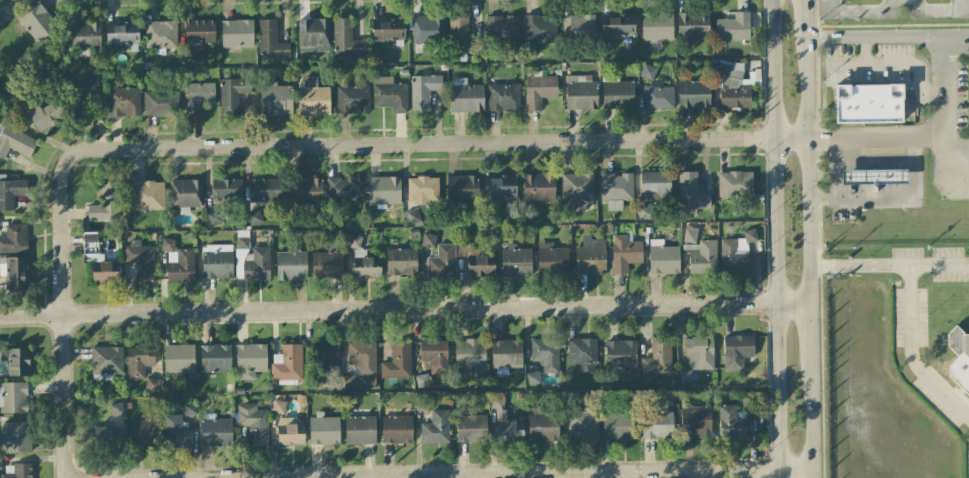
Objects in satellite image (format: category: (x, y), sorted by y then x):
building: (7, 1)
road: (962, 5)
road: (965, 10)
road: (932, 11)
road: (801, 12)
road: (859, 12)
building: (38, 23)
building: (617, 24)
building: (692, 25)
building: (577, 26)
building: (656, 26)
building: (732, 27)
building: (387, 28)
building: (427, 28)
building: (501, 29)
building: (539, 30)
building: (198, 31)
building: (121, 33)
building: (236, 33)
building: (160, 34)
building: (84, 35)
building: (313, 35)
building: (462, 36)
building: (345, 39)
building: (270, 40)
road: (885, 40)
road: (905, 62)
building: (732, 86)
road: (943, 88)
building: (423, 91)
building: (538, 91)
building: (580, 92)
building: (616, 93)
building: (389, 94)
building: (693, 94)
building: (232, 95)
building: (81, 96)
building: (466, 96)
building: (197, 97)
building: (503, 97)
building: (658, 97)
building: (313, 98)
building: (275, 99)
building: (352, 99)
building: (123, 101)
building: (160, 103)
building: (867, 103)
building: (42, 113)
road: (910, 137)
building: (15, 142)
road: (467, 143)
road: (956, 154)
road: (805, 162)
building: (874, 176)
building: (734, 183)
building: (654, 184)
building: (499, 185)
building: (538, 187)
building: (462, 188)
building: (576, 188)
building: (422, 189)
building: (616, 189)
building: (226, 190)
building: (265, 190)
building: (306, 190)
building: (342, 190)
building: (384, 190)
building: (10, 192)
building: (690, 192)
building: (185, 194)
building: (147, 195)
road: (890, 199)
building: (105, 204)
building: (412, 216)
building: (254, 217)
building: (216, 219)
building: (13, 239)
road: (772, 239)
building: (427, 240)
building: (690, 248)
building: (735, 252)
building: (624, 253)
street lamp: (869, 256)
building: (589, 258)
building: (703, 258)
building: (475, 259)
building: (551, 259)
building: (663, 259)
building: (140, 260)
building: (251, 260)
building: (363, 260)
building: (217, 261)
building: (401, 261)
building: (178, 262)
building: (442, 262)
building: (515, 262)
building: (291, 265)
building: (326, 265)
road: (887, 265)
building: (104, 271)
building: (14, 272)
road: (64, 287)
road: (403, 310)
street lamp: (928, 316)
road: (807, 325)
building: (959, 342)
building: (0, 350)
building: (736, 351)
building: (620, 352)
building: (506, 353)
building: (699, 353)
road: (910, 353)
building: (434, 354)
building: (545, 354)
building: (582, 355)
building: (469, 356)
building: (326, 357)
building: (362, 357)
building: (178, 358)
building: (215, 358)
building: (657, 358)
building: (250, 360)
building: (138, 361)
building: (397, 361)
building: (105, 362)
building: (287, 364)
street lamp: (959, 383)
building: (13, 397)
building: (278, 406)
building: (115, 409)
road: (809, 413)
building: (695, 420)
building: (584, 421)
building: (505, 422)
building: (731, 422)
building: (253, 423)
building: (657, 424)
building: (617, 426)
building: (542, 427)
building: (435, 428)
building: (470, 428)
building: (396, 429)
building: (323, 430)
building: (359, 430)
building: (289, 431)
building: (143, 432)
building: (176, 432)
building: (216, 432)
building: (107, 434)
building: (16, 436)
building: (0, 466)
building: (19, 471)
road: (568, 474)

